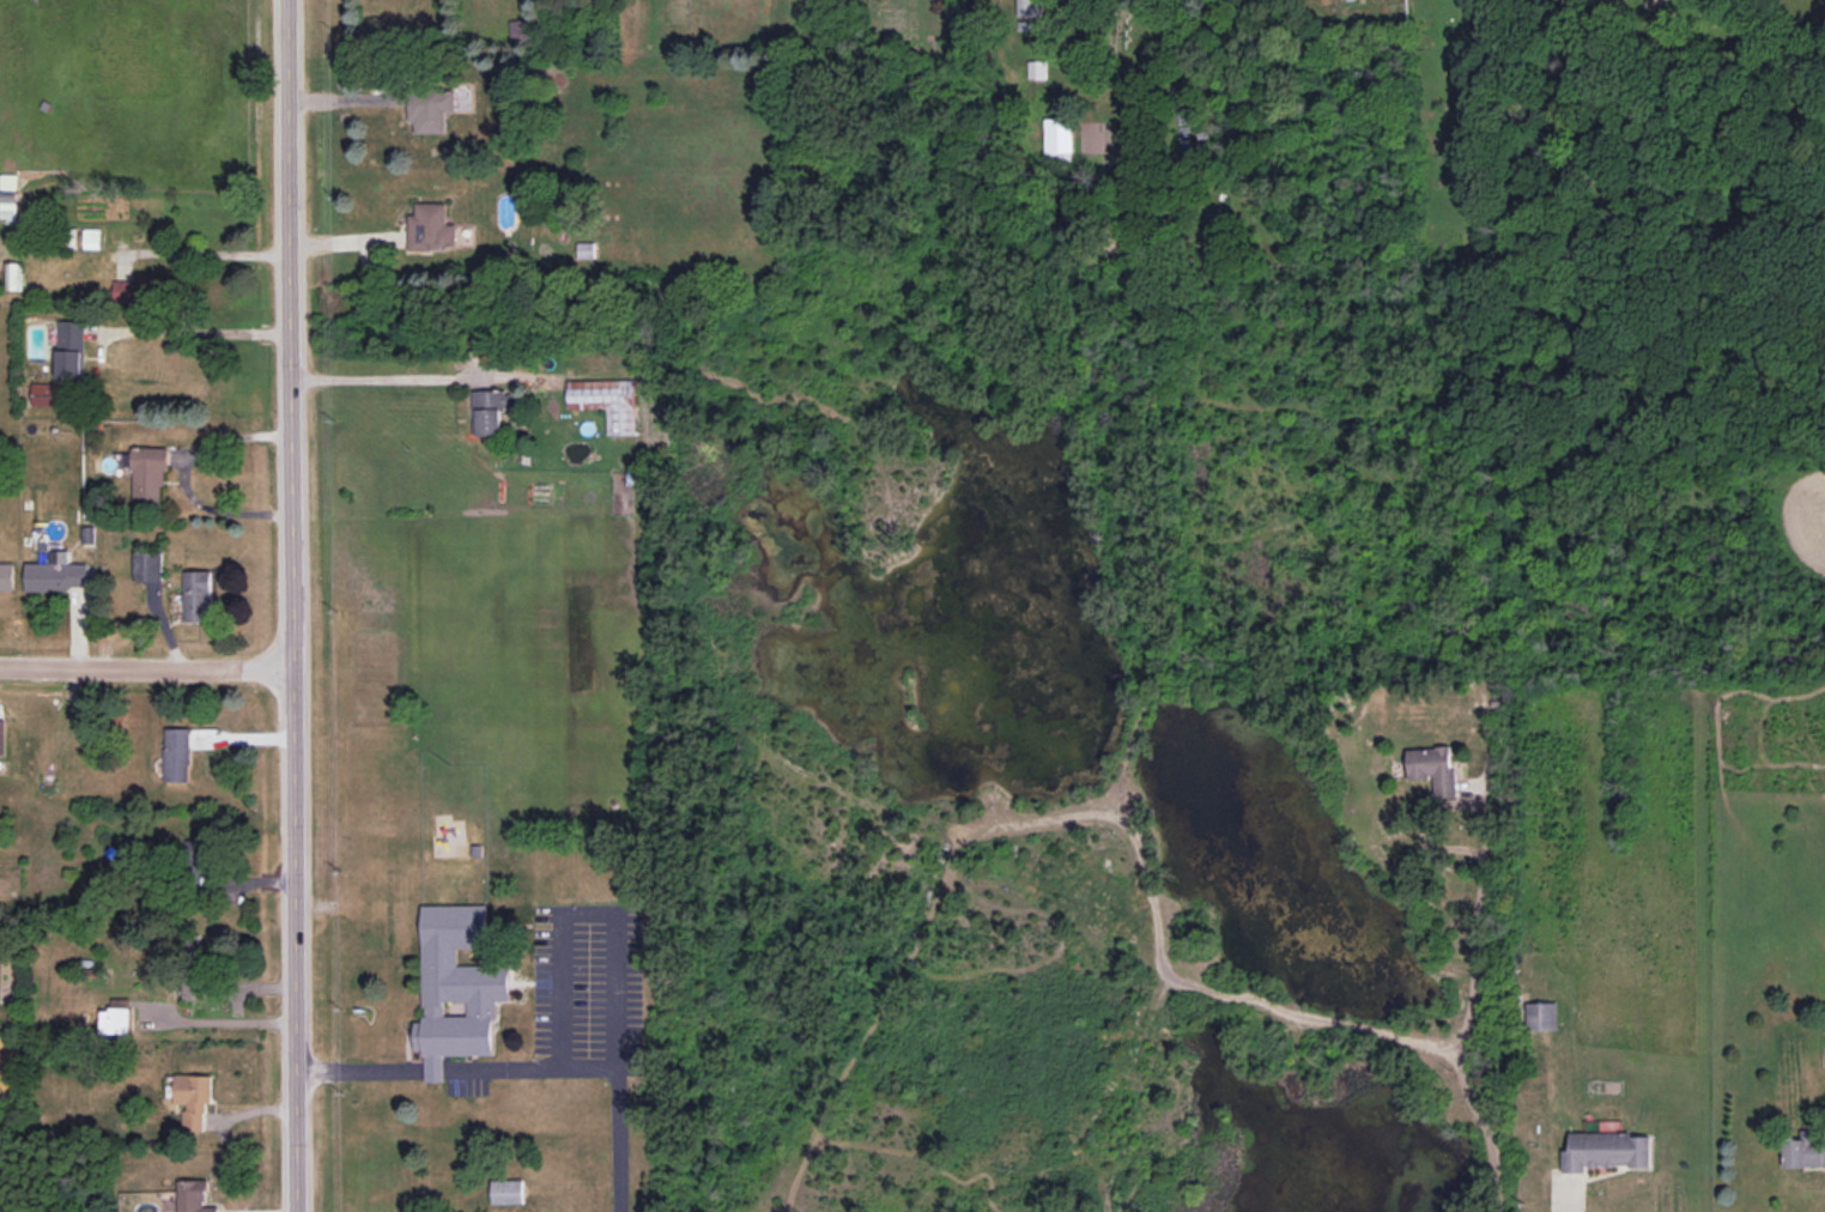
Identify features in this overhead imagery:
building: (1029, 7)
building: (1037, 69)
road: (341, 101)
building: (431, 108)
building: (1060, 139)
building: (8, 181)
building: (431, 228)
building: (92, 238)
road: (204, 254)
building: (13, 275)
building: (139, 290)
road: (196, 333)
building: (72, 349)
road: (425, 380)
building: (50, 395)
building: (606, 401)
building: (490, 411)
building: (148, 475)
building: (147, 565)
building: (57, 574)
building: (7, 577)
building: (199, 595)
road: (296, 605)
road: (148, 666)
building: (2, 737)
building: (176, 755)
building: (1433, 769)
building: (196, 854)
building: (456, 988)
building: (193, 989)
road: (1465, 1016)
building: (1541, 1016)
building: (115, 1019)
road: (218, 1022)
road: (613, 1060)
road: (529, 1067)
road: (430, 1068)
road: (357, 1071)
building: (193, 1098)
building: (1606, 1151)
building: (1803, 1151)
building: (508, 1192)
building: (193, 1196)
road: (1576, 1207)

